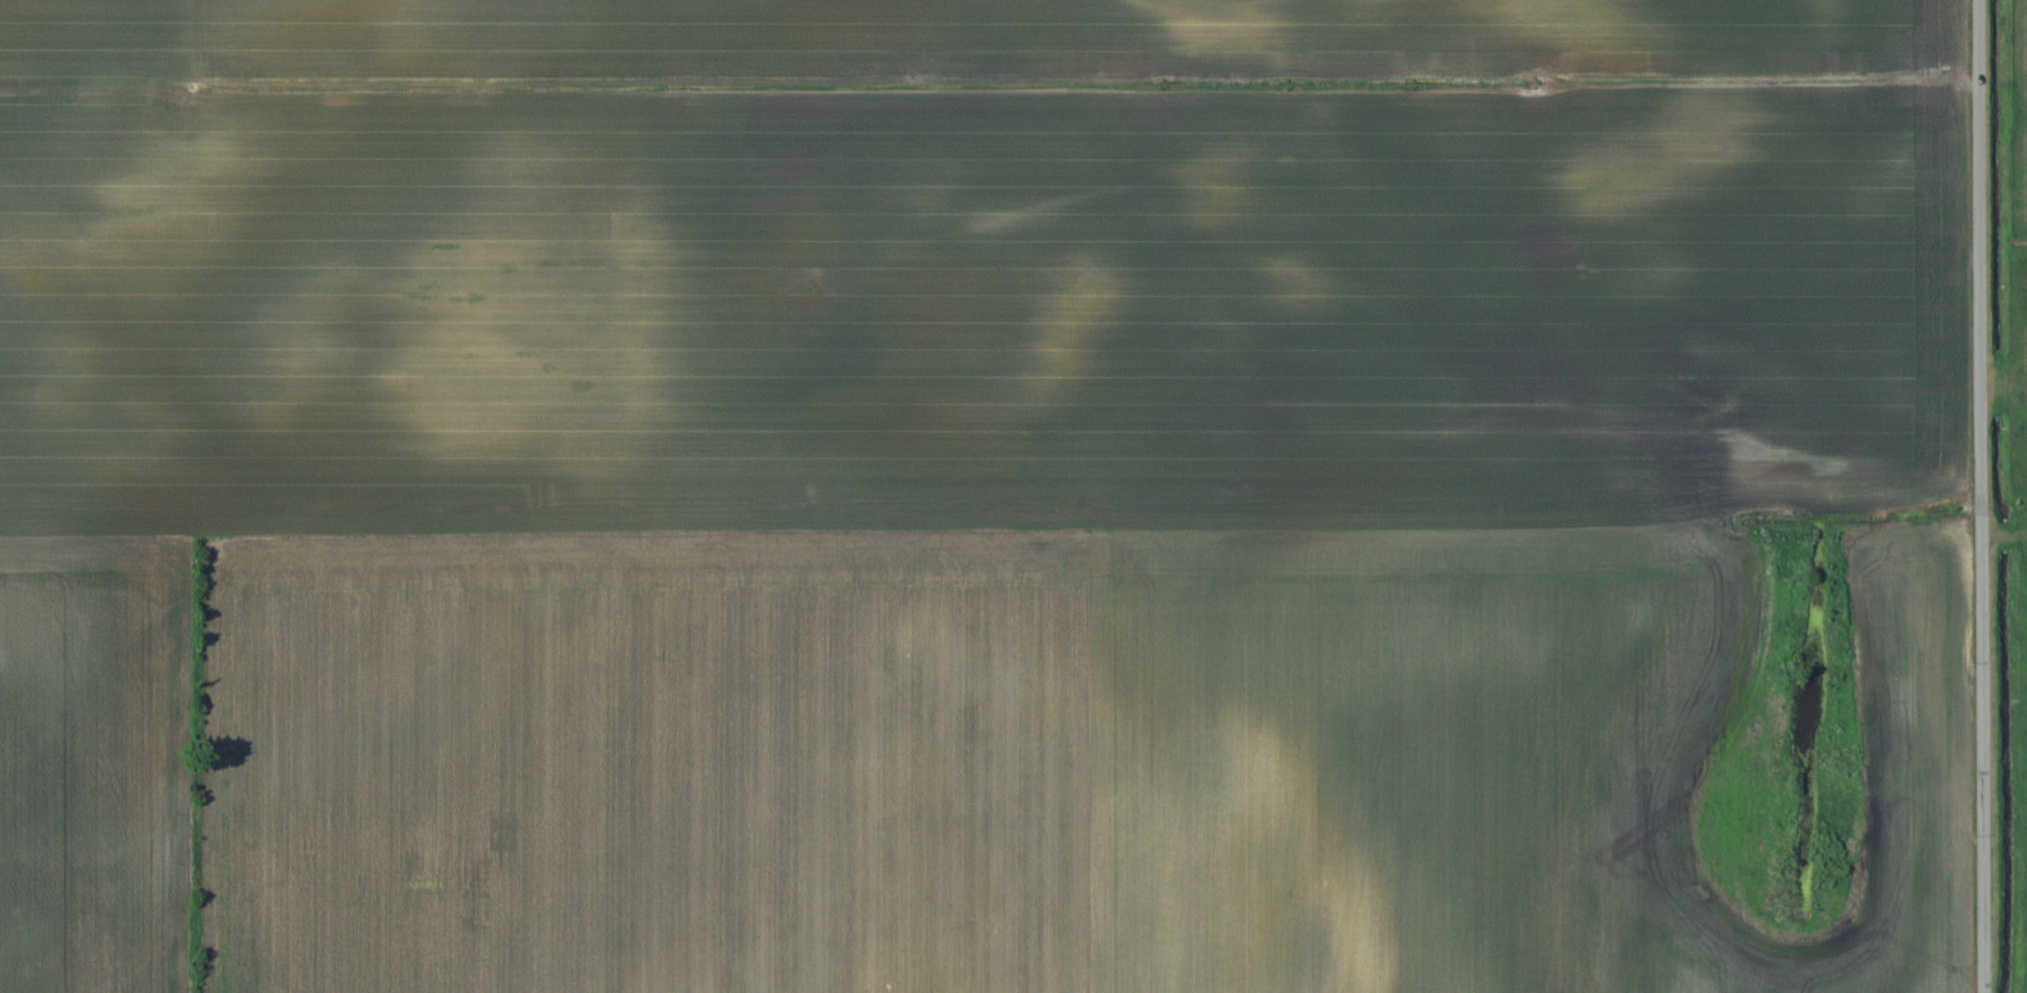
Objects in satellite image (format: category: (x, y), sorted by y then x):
road: (1987, 496)

